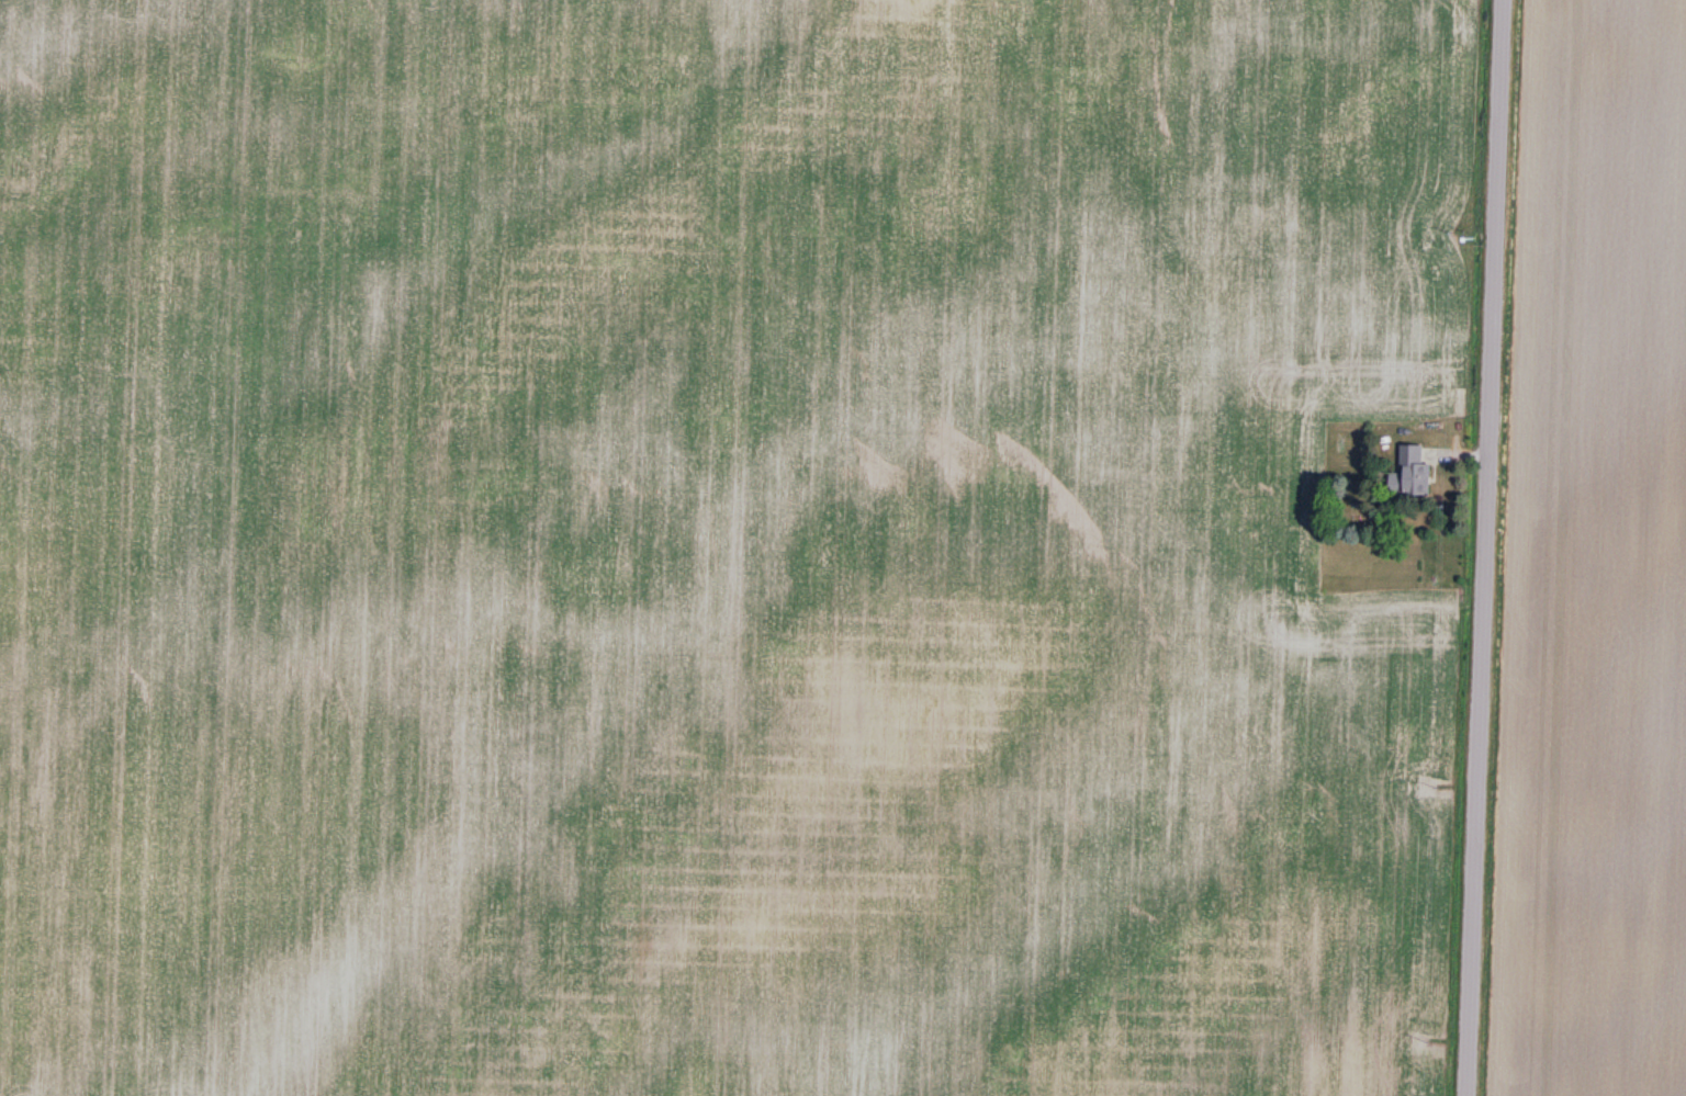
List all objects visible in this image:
building: (1414, 471)
road: (1483, 547)

